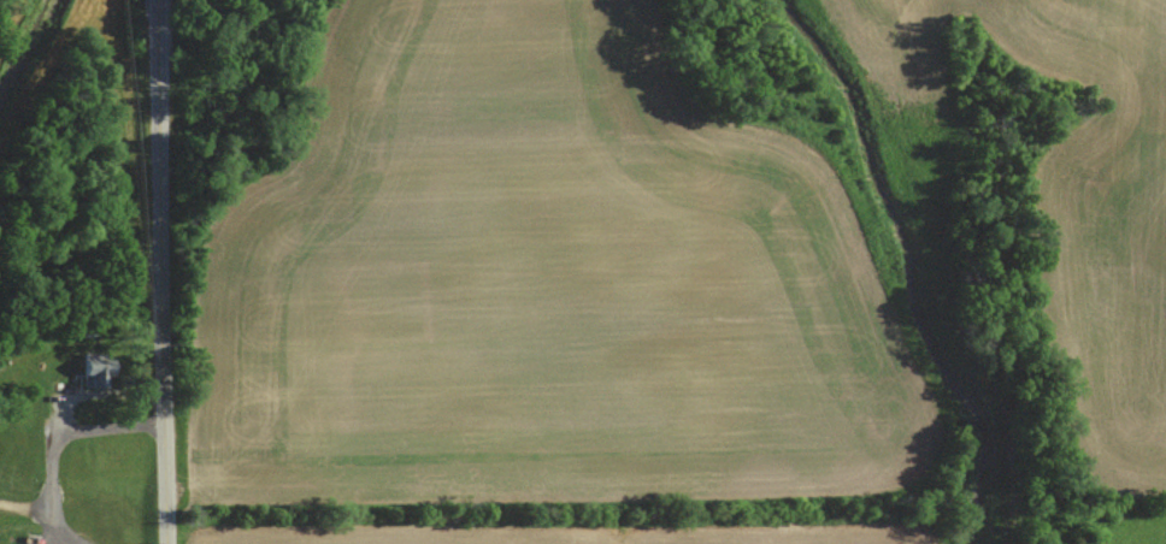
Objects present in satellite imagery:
road: (160, 272)
building: (96, 373)
road: (96, 395)
road: (57, 438)

